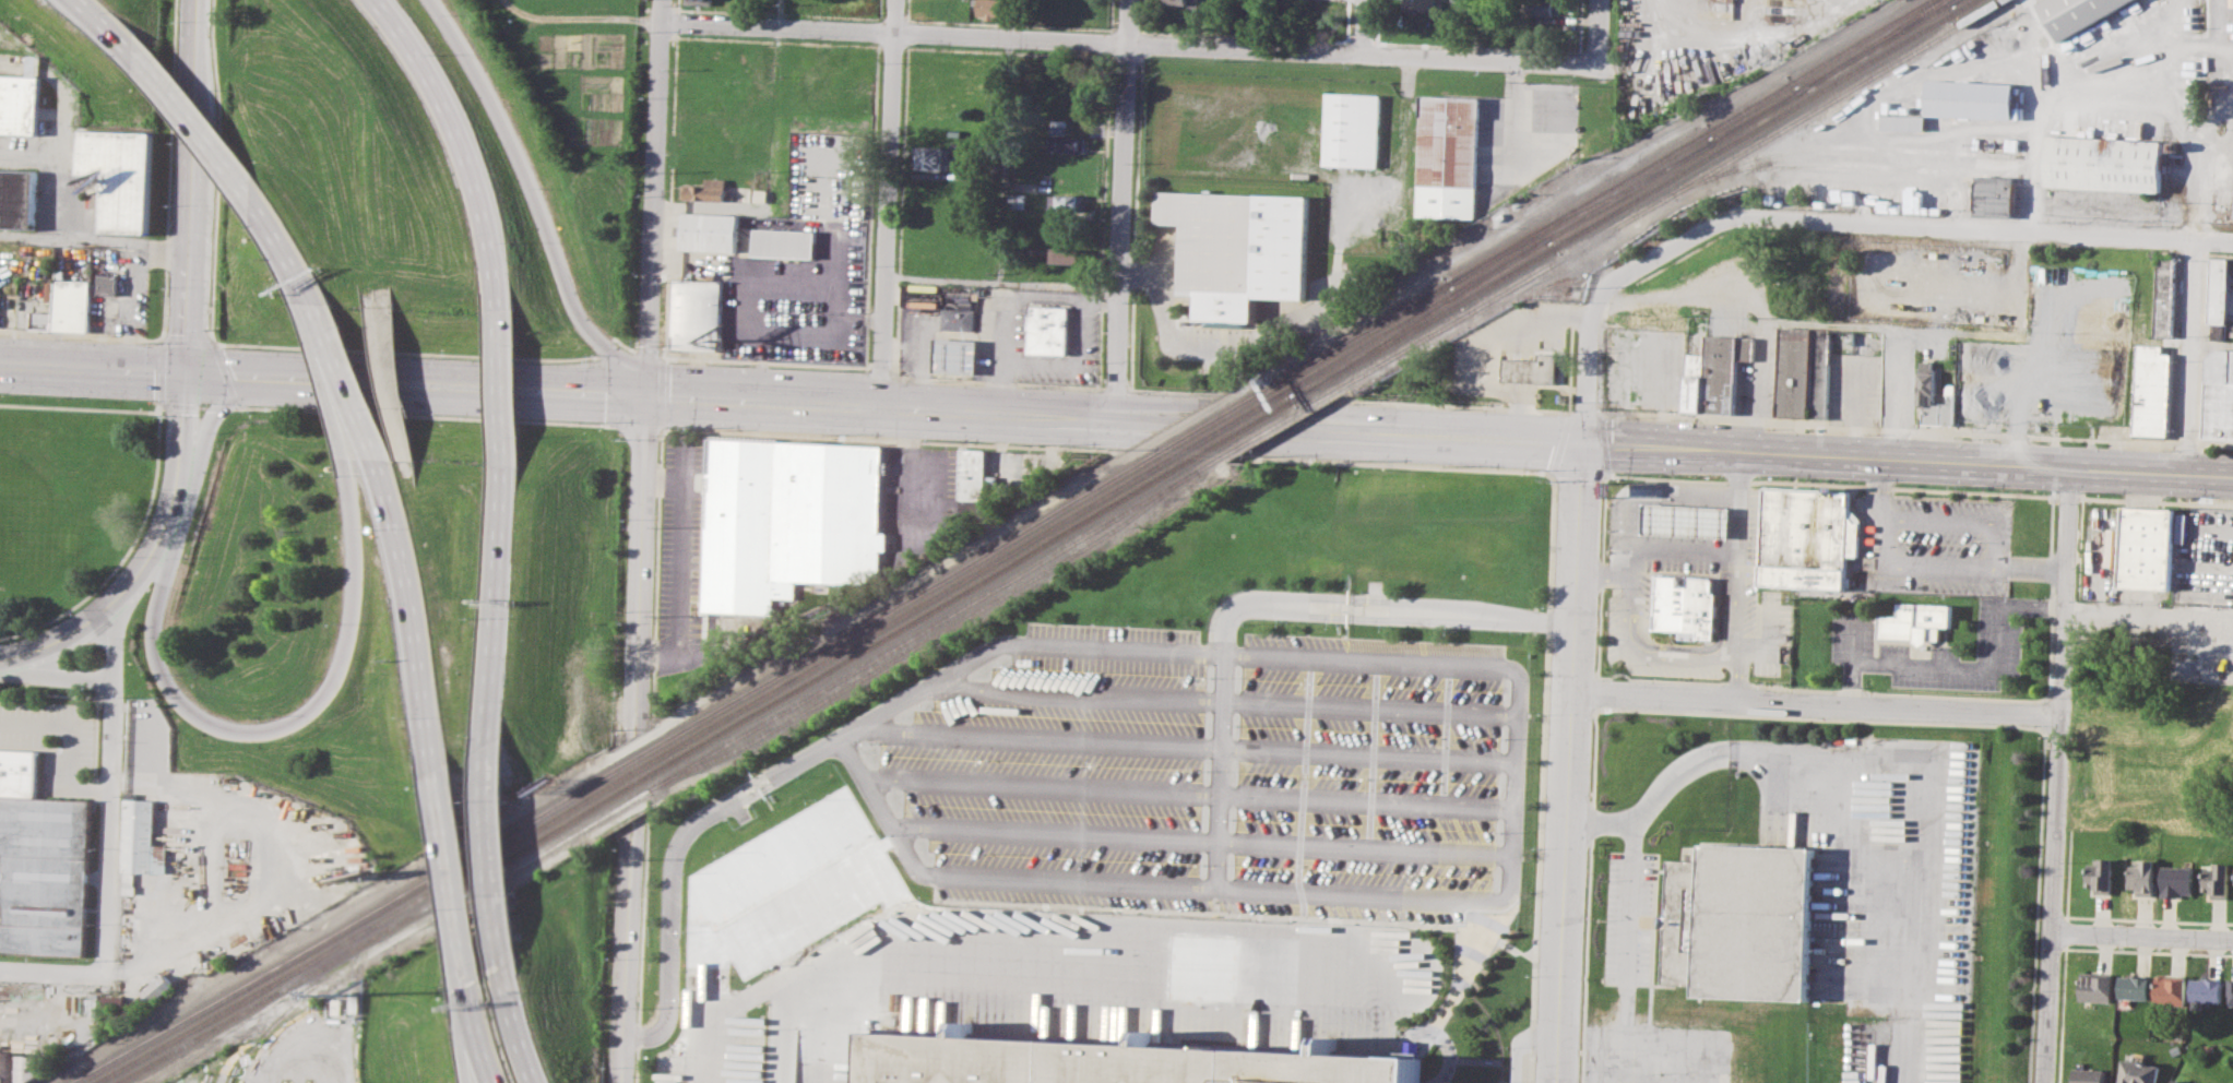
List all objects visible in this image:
railway: (1952, 0)
railway: (1952, 0)
building: (700, 1)
building: (1184, 1)
building: (1417, 4)
building: (1544, 7)
building: (988, 8)
building: (2078, 13)
road: (780, 14)
road: (582, 19)
building: (1414, 23)
road: (1245, 24)
road: (102, 25)
road: (1363, 27)
road: (1750, 28)
road: (1478, 29)
road: (1596, 29)
road: (1129, 43)
railway: (1872, 45)
railway: (1877, 45)
building: (31, 64)
building: (1971, 98)
building: (19, 105)
railway: (1757, 116)
building: (1903, 121)
road: (194, 124)
building: (1351, 128)
road: (331, 129)
railway: (1688, 142)
building: (1067, 143)
road: (455, 144)
railway: (1841, 147)
building: (1447, 155)
building: (930, 157)
building: (2104, 163)
railway: (1868, 165)
building: (121, 175)
railway: (1630, 189)
building: (705, 192)
railway: (1647, 192)
railway: (1672, 194)
building: (1993, 195)
road: (656, 197)
building: (17, 198)
building: (1015, 199)
road: (533, 202)
road: (1001, 202)
building: (1066, 202)
road: (888, 204)
road: (1124, 210)
railway: (1579, 213)
road: (1903, 227)
building: (709, 234)
road: (95, 238)
building: (783, 245)
building: (1238, 250)
road: (283, 253)
building: (1066, 254)
road: (188, 271)
building: (1068, 272)
road: (942, 279)
building: (108, 283)
building: (2163, 295)
road: (1058, 298)
building: (2219, 298)
building: (923, 301)
building: (71, 305)
railway: (1424, 309)
railway: (1433, 310)
road: (2189, 310)
building: (694, 318)
building: (41, 320)
building: (955, 320)
road: (1969, 331)
building: (1045, 332)
railway: (1364, 332)
road: (799, 335)
road: (1264, 335)
road: (1480, 349)
road: (995, 354)
building: (952, 358)
road: (1068, 364)
road: (1585, 367)
building: (1531, 369)
building: (1807, 369)
traffic signals: (185, 371)
building: (1721, 371)
road: (392, 380)
road: (343, 383)
building: (1692, 383)
road: (501, 386)
road: (557, 389)
building: (1670, 390)
building: (2150, 390)
railway: (1306, 392)
railway: (1306, 392)
building: (1925, 393)
traffic signals: (651, 394)
building: (2218, 394)
road: (221, 402)
road: (226, 405)
road: (158, 407)
road: (424, 415)
railway: (1214, 418)
road: (1996, 419)
railway: (1233, 420)
road: (2035, 421)
road: (637, 424)
railway: (1273, 425)
road: (1347, 428)
railway: (1239, 430)
road: (349, 431)
traffic signals: (1581, 439)
road: (1907, 455)
road: (1410, 464)
road: (908, 469)
building: (972, 473)
road: (1575, 473)
road: (1549, 474)
road: (152, 483)
road: (1828, 483)
road: (664, 484)
road: (1878, 488)
road: (2067, 496)
park: (71, 498)
road: (2154, 500)
building: (1684, 520)
gas station: (1684, 520)
building: (786, 521)
building: (2182, 527)
park: (27, 528)
road: (423, 531)
building: (1806, 537)
parking lot: (1934, 543)
building: (2147, 547)
road: (1682, 549)
road: (1994, 563)
road: (2029, 566)
road: (641, 567)
road: (135, 568)
road: (678, 568)
road: (1597, 573)
road: (1739, 573)
road: (1622, 574)
road: (492, 604)
building: (1684, 607)
road: (2148, 612)
road: (1230, 614)
road: (411, 615)
building: (1916, 621)
road: (62, 635)
railway: (930, 638)
road: (1769, 643)
parking lot: (1933, 652)
road: (1853, 656)
road: (1987, 668)
road: (55, 676)
road: (1817, 689)
road: (58, 693)
road: (1813, 704)
railway: (780, 713)
road: (289, 723)
building: (144, 735)
road: (68, 739)
parking lot: (54, 740)
road: (834, 741)
road: (1567, 760)
parking lot: (1213, 771)
building: (19, 772)
railway: (609, 773)
railway: (630, 773)
railway: (651, 773)
road: (2054, 773)
road: (109, 781)
road: (1826, 796)
road: (487, 858)
building: (133, 861)
building: (44, 873)
building: (2100, 874)
building: (2142, 877)
building: (2217, 878)
road: (452, 880)
building: (2176, 880)
parking lot: (1886, 881)
road: (768, 892)
parking lot: (1629, 918)
building: (1739, 921)
road: (1630, 933)
road: (2140, 938)
road: (1048, 948)
road: (625, 953)
road: (51, 964)
parking lot: (1003, 966)
building: (159, 986)
building: (2094, 987)
building: (2133, 987)
building: (2206, 989)
building: (2170, 990)
building: (2230, 990)
railway: (284, 1012)
road: (830, 1016)
railway: (252, 1022)
road: (519, 1028)
road: (477, 1037)
road: (1520, 1045)
road: (1660, 1046)
parking lot: (1656, 1054)
road: (477, 1060)
building: (1114, 1063)
building: (20, 1068)
building: (2137, 1071)
building: (2089, 1075)
building: (2177, 1081)

